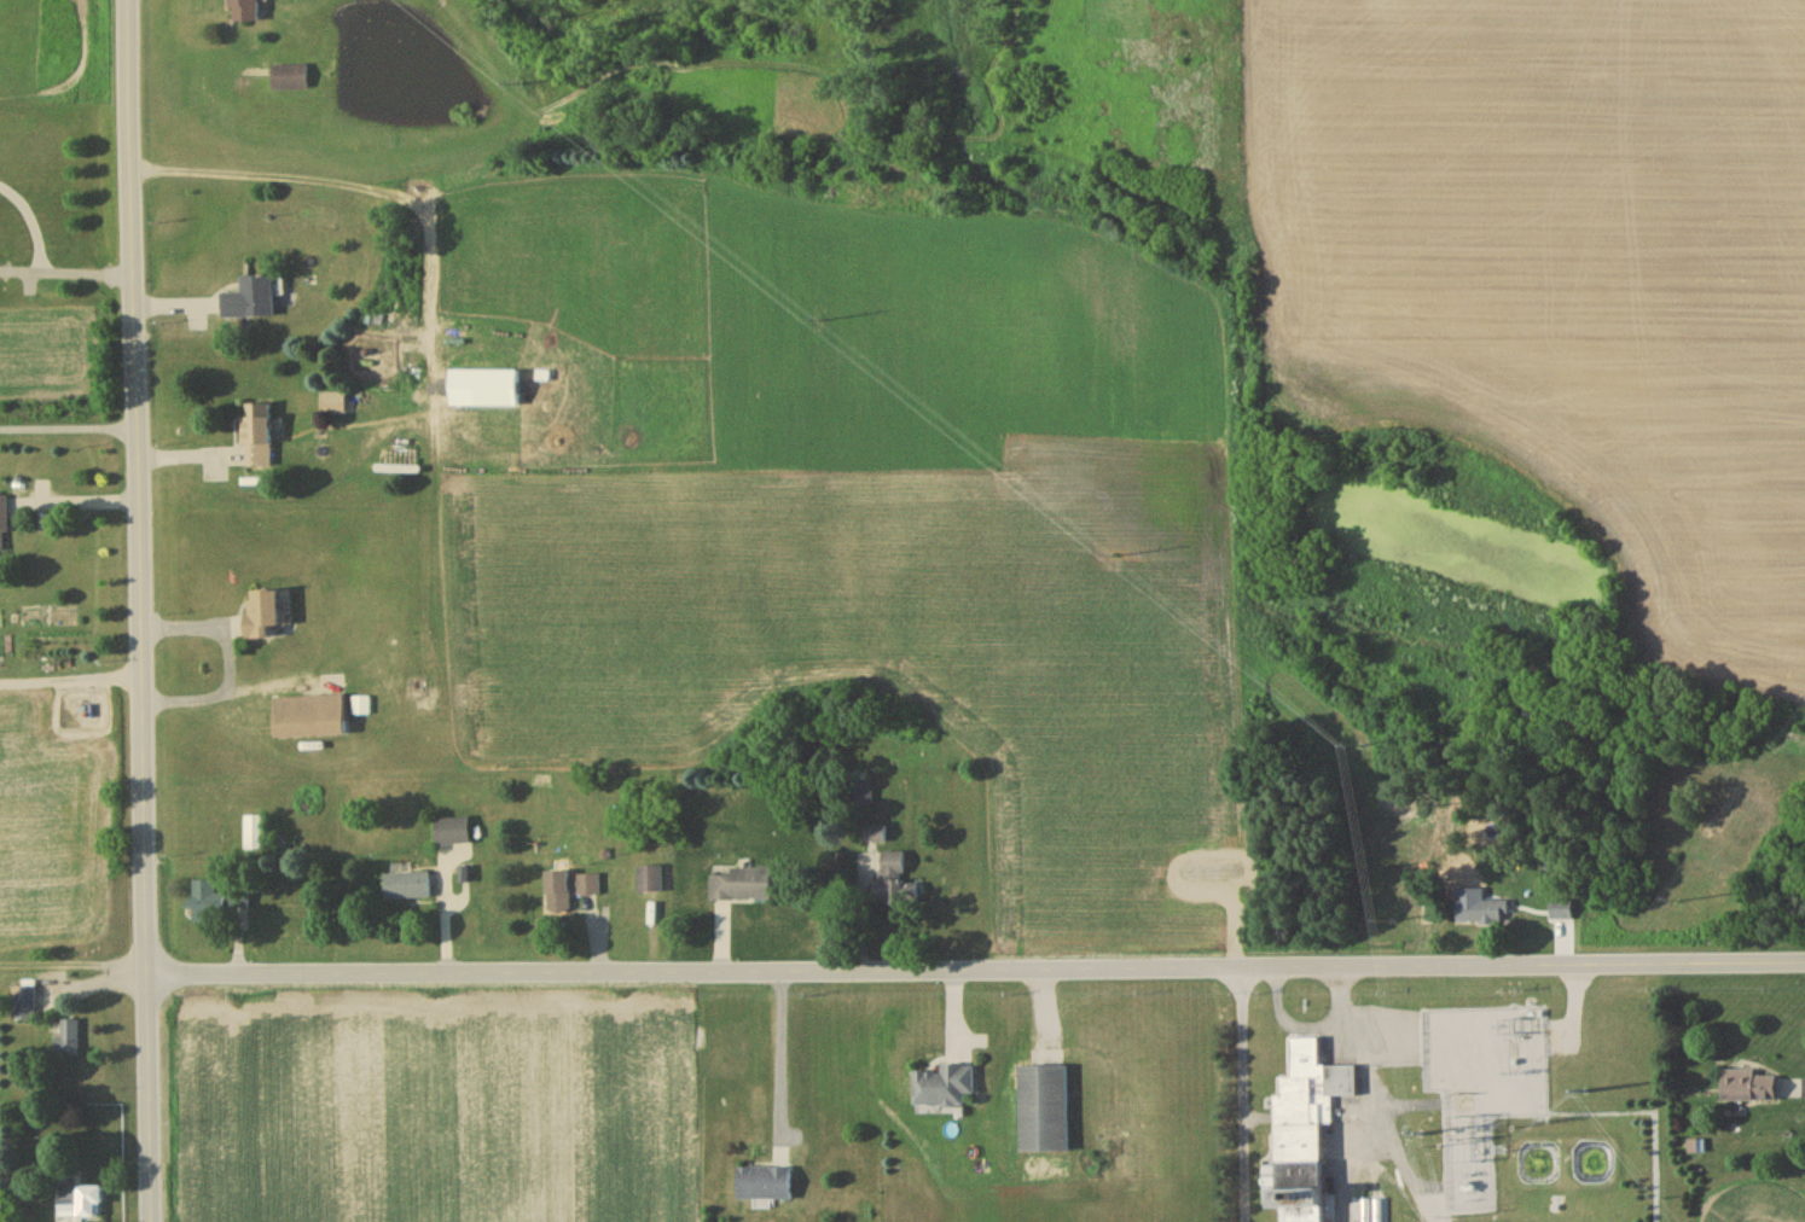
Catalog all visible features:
building: (245, 12)
building: (291, 80)
road: (68, 257)
building: (251, 302)
road: (343, 309)
building: (332, 406)
road: (69, 426)
building: (256, 437)
road: (74, 502)
building: (4, 526)
road: (140, 610)
building: (261, 616)
road: (226, 648)
road: (70, 663)
building: (308, 718)
building: (452, 834)
building: (255, 836)
building: (650, 881)
building: (896, 885)
building: (587, 886)
building: (741, 888)
building: (407, 889)
building: (557, 895)
building: (207, 904)
building: (1562, 913)
building: (1488, 915)
road: (72, 974)
road: (975, 974)
building: (24, 1007)
building: (70, 1041)
road: (783, 1055)
building: (945, 1089)
building: (1751, 1089)
power substation: (1484, 1090)
road: (1243, 1098)
building: (1044, 1112)
building: (1304, 1134)
building: (765, 1186)
building: (79, 1205)

